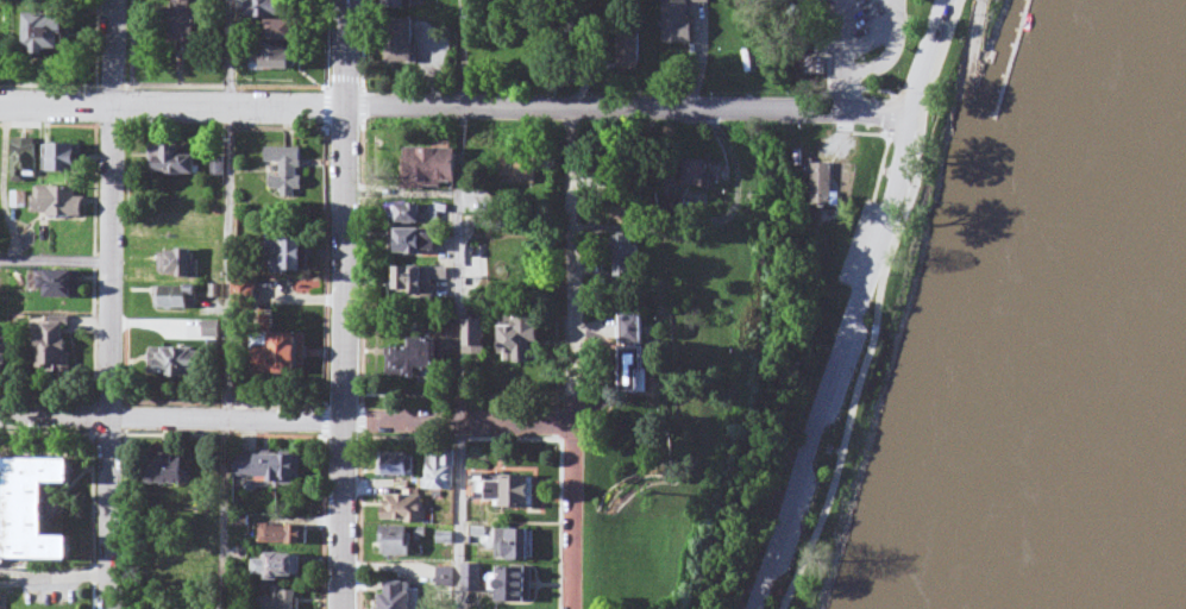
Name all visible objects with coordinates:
building: (401, 4)
building: (277, 8)
building: (193, 24)
building: (683, 24)
building: (283, 32)
building: (51, 36)
park: (852, 38)
building: (404, 42)
building: (636, 52)
road: (840, 55)
road: (890, 56)
building: (281, 59)
building: (815, 59)
road: (969, 80)
road: (171, 105)
road: (457, 107)
road: (741, 109)
building: (69, 159)
building: (25, 161)
building: (175, 162)
building: (441, 169)
building: (291, 172)
building: (526, 172)
building: (707, 175)
building: (824, 193)
building: (59, 203)
building: (626, 212)
building: (425, 215)
road: (711, 225)
building: (421, 244)
building: (290, 256)
building: (633, 258)
building: (180, 265)
road: (571, 266)
building: (423, 283)
building: (67, 287)
building: (177, 300)
road: (111, 304)
road: (343, 304)
road: (881, 304)
road: (861, 306)
park: (886, 315)
building: (212, 331)
building: (639, 331)
building: (481, 338)
building: (527, 341)
building: (57, 347)
building: (284, 356)
building: (419, 362)
building: (182, 364)
building: (6, 369)
building: (644, 372)
road: (287, 421)
river: (1118, 433)
building: (397, 465)
building: (270, 469)
building: (170, 472)
building: (441, 472)
building: (507, 494)
building: (404, 509)
building: (43, 513)
road: (575, 517)
building: (285, 536)
building: (397, 542)
building: (519, 545)
building: (4, 546)
park: (641, 563)
building: (283, 569)
building: (475, 577)
building: (519, 584)
building: (400, 595)
building: (283, 599)
building: (4, 608)

